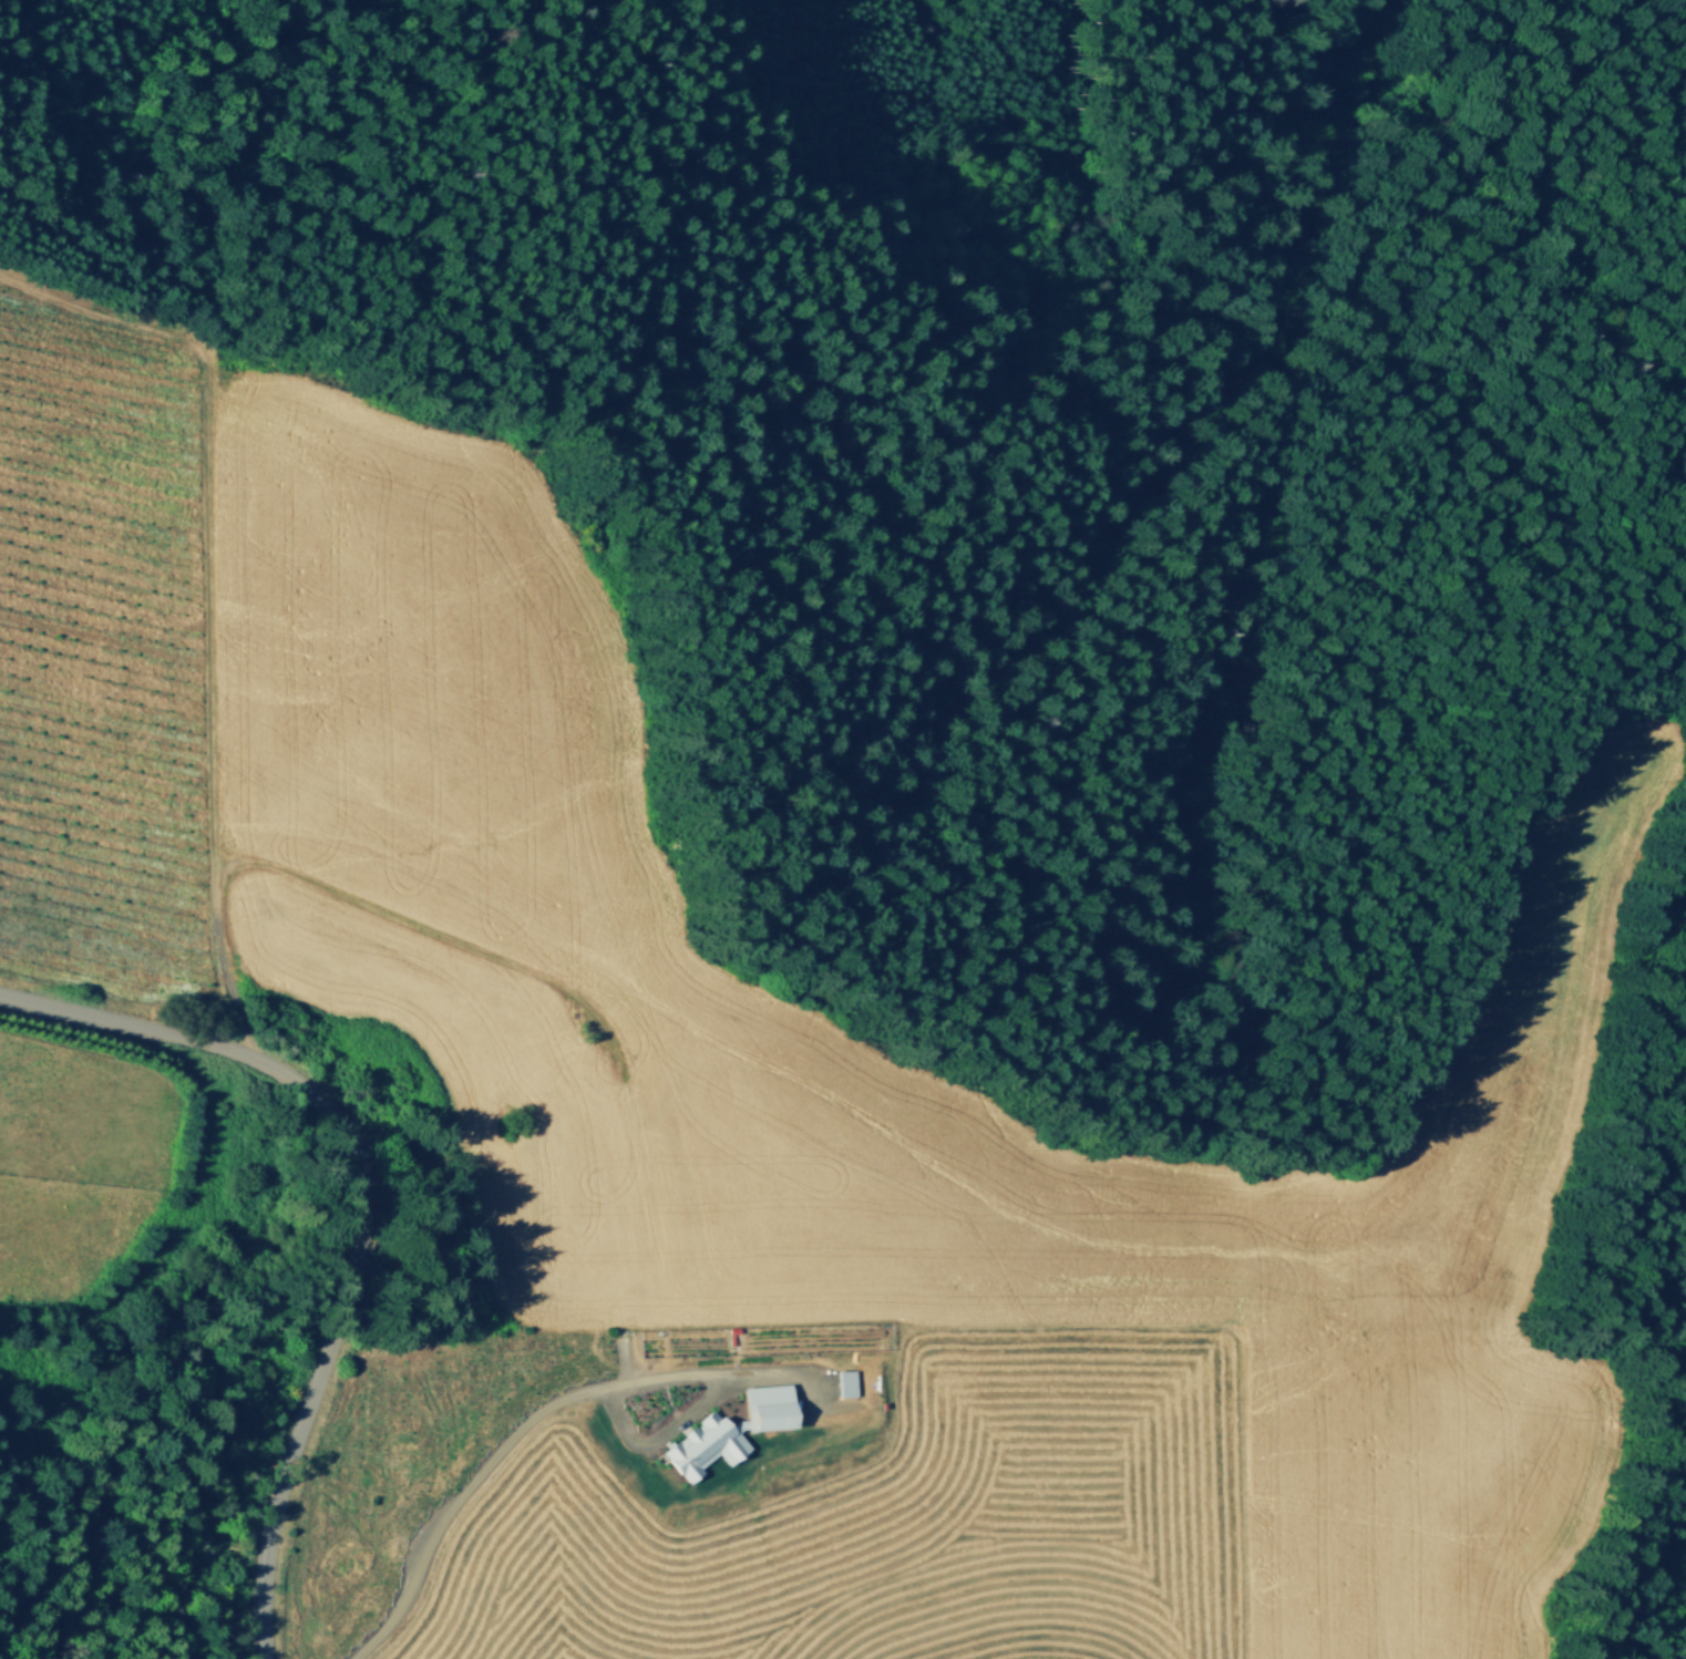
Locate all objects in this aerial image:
road: (919, 9)
crop: (106, 657)
crop: (442, 844)
road: (496, 958)
road: (369, 1208)
building: (846, 1382)
building: (731, 1429)
crop: (1399, 1487)
road: (456, 1490)
crop: (850, 1505)

